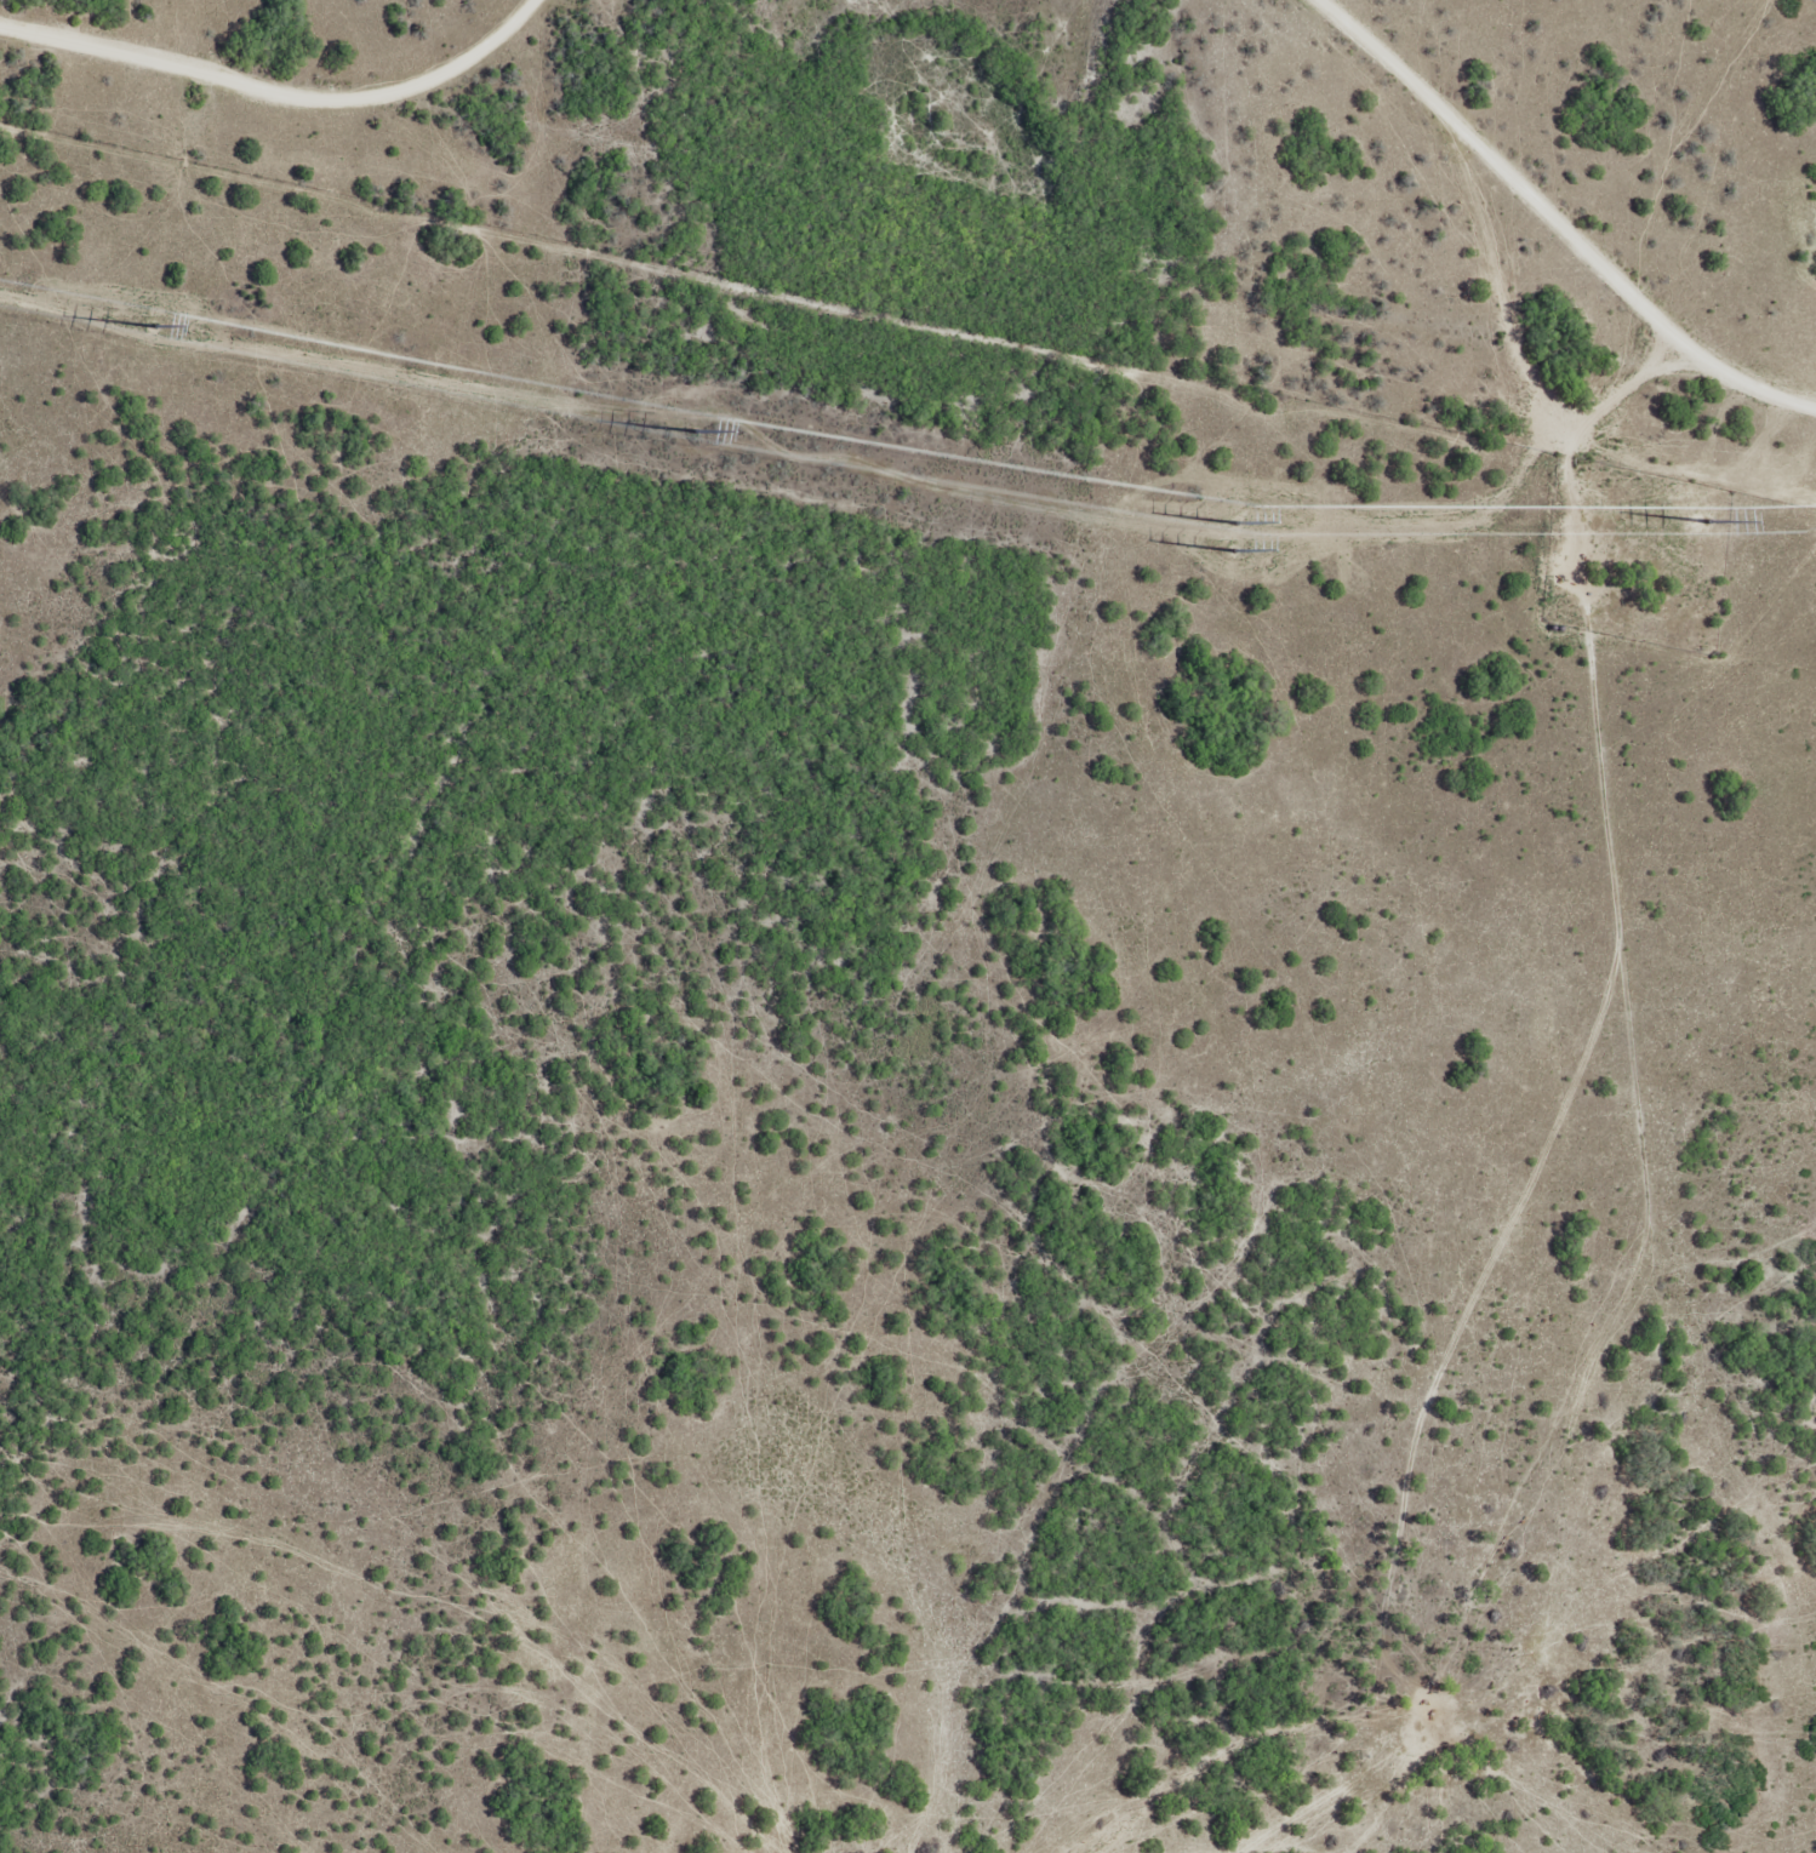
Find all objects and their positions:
road: (518, 44)
road: (799, 173)
road: (1517, 245)
power tower: (160, 328)
power tower: (698, 435)
power tower: (1714, 528)
power tower: (1241, 555)
road: (1677, 1189)

